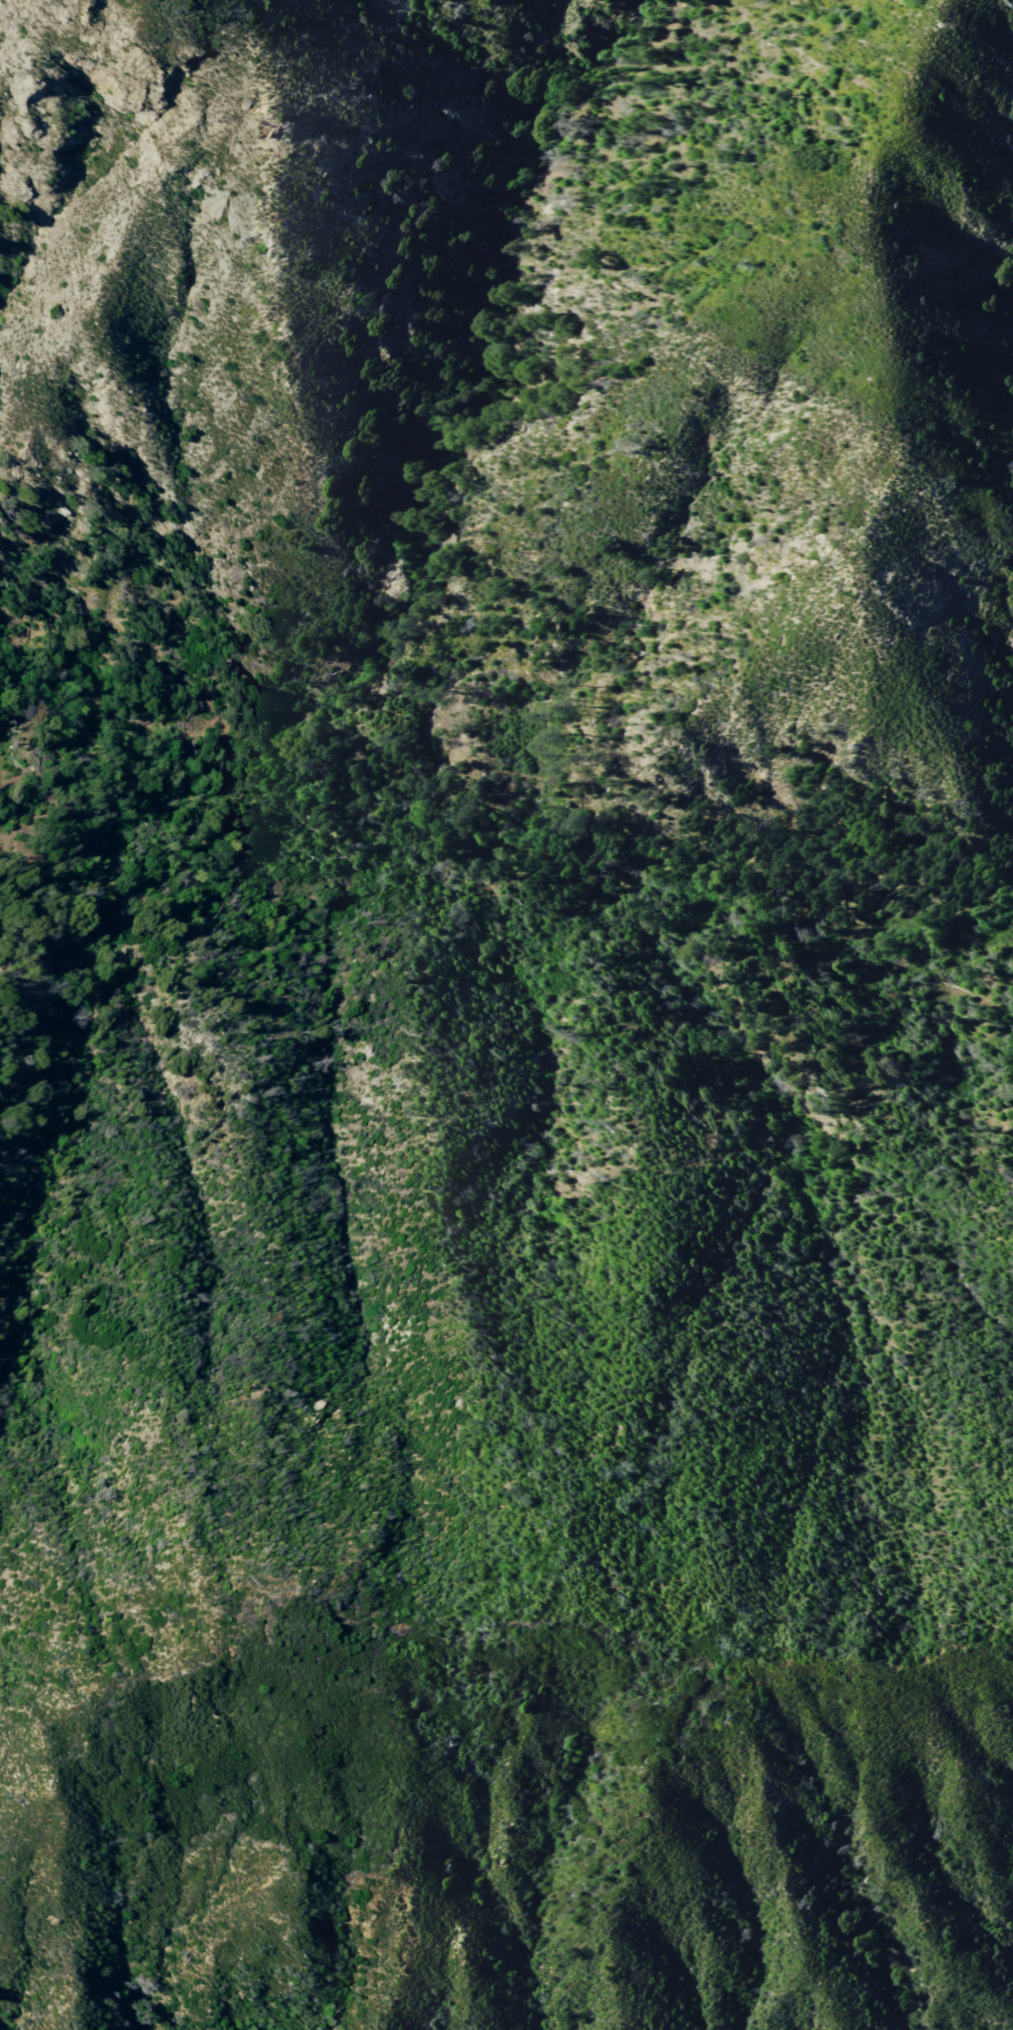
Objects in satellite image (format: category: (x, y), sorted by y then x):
road: (481, 887)

